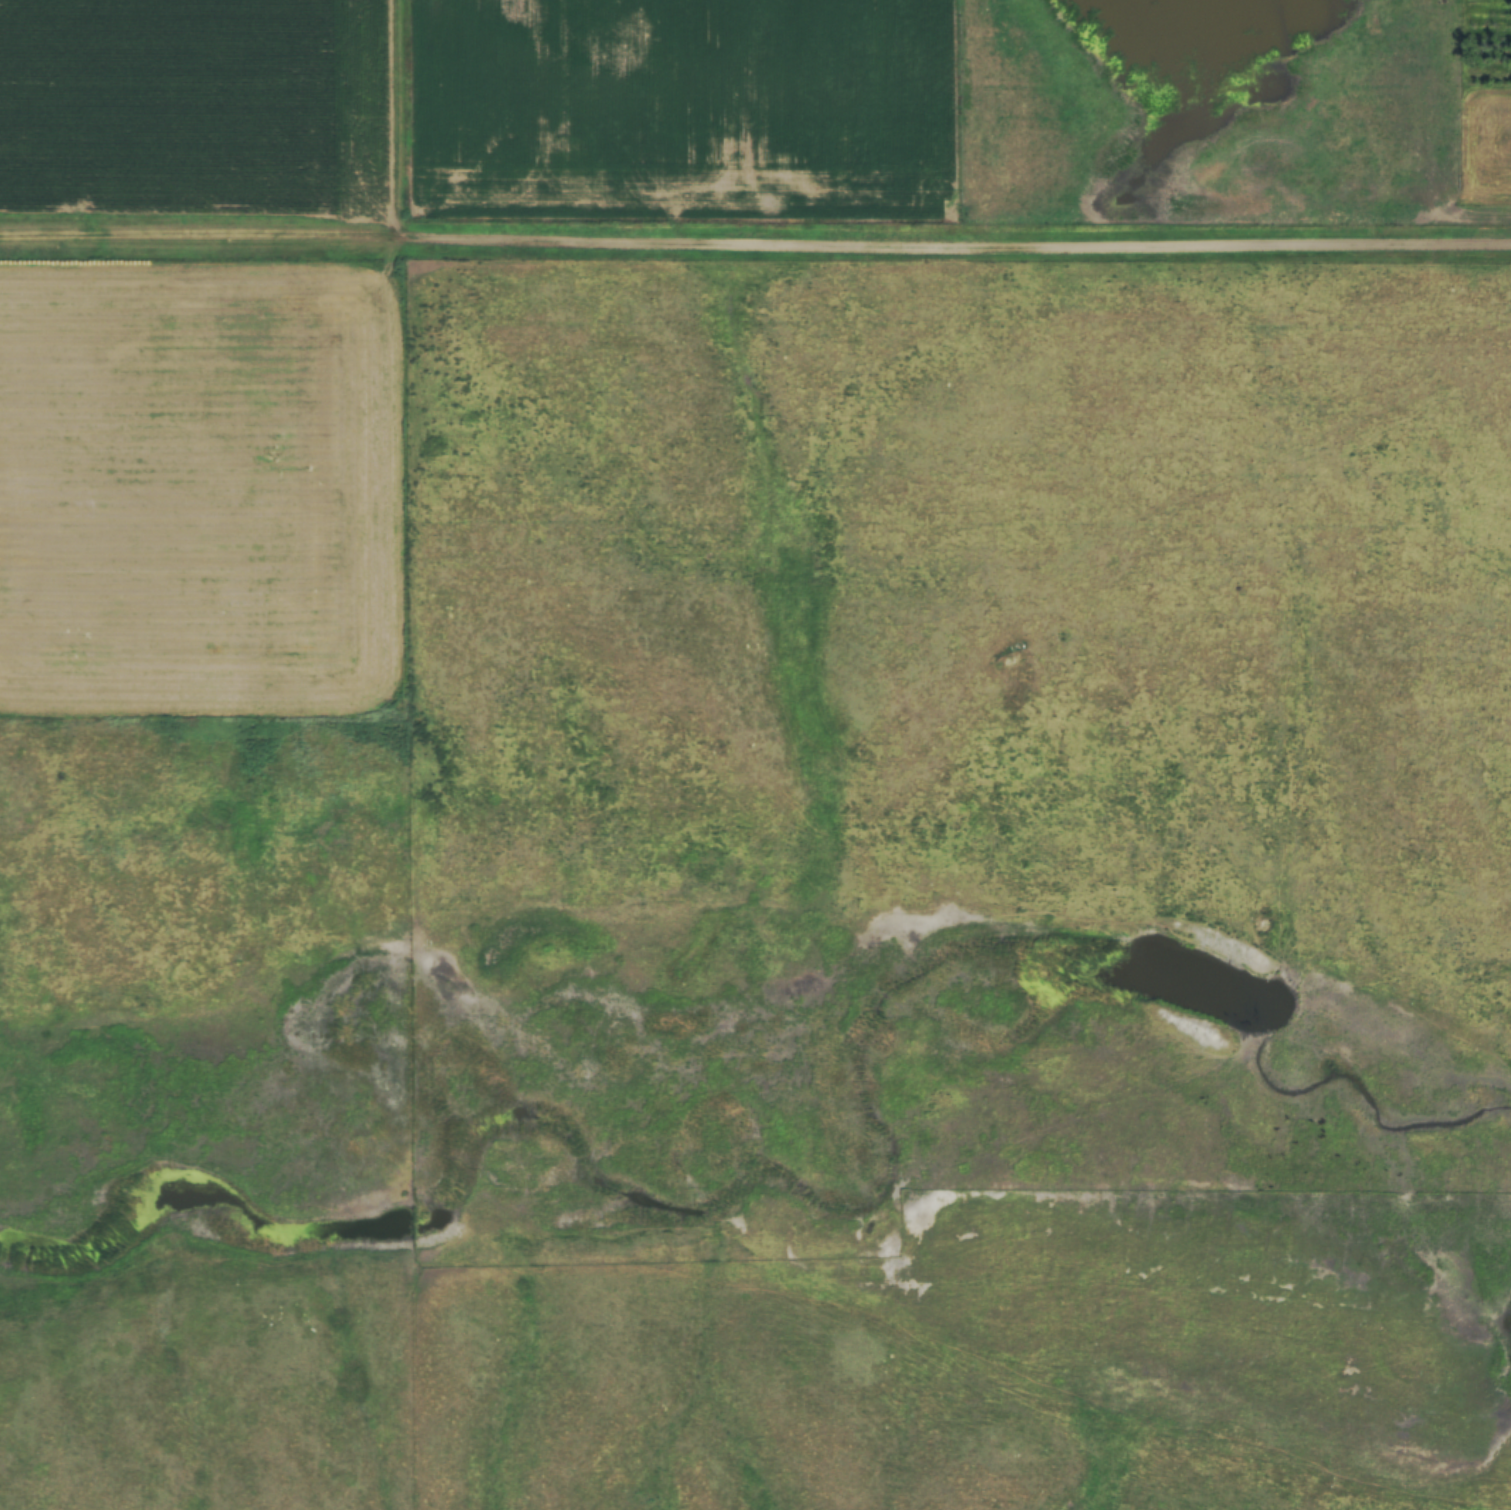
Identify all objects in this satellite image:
road: (1396, 313)

